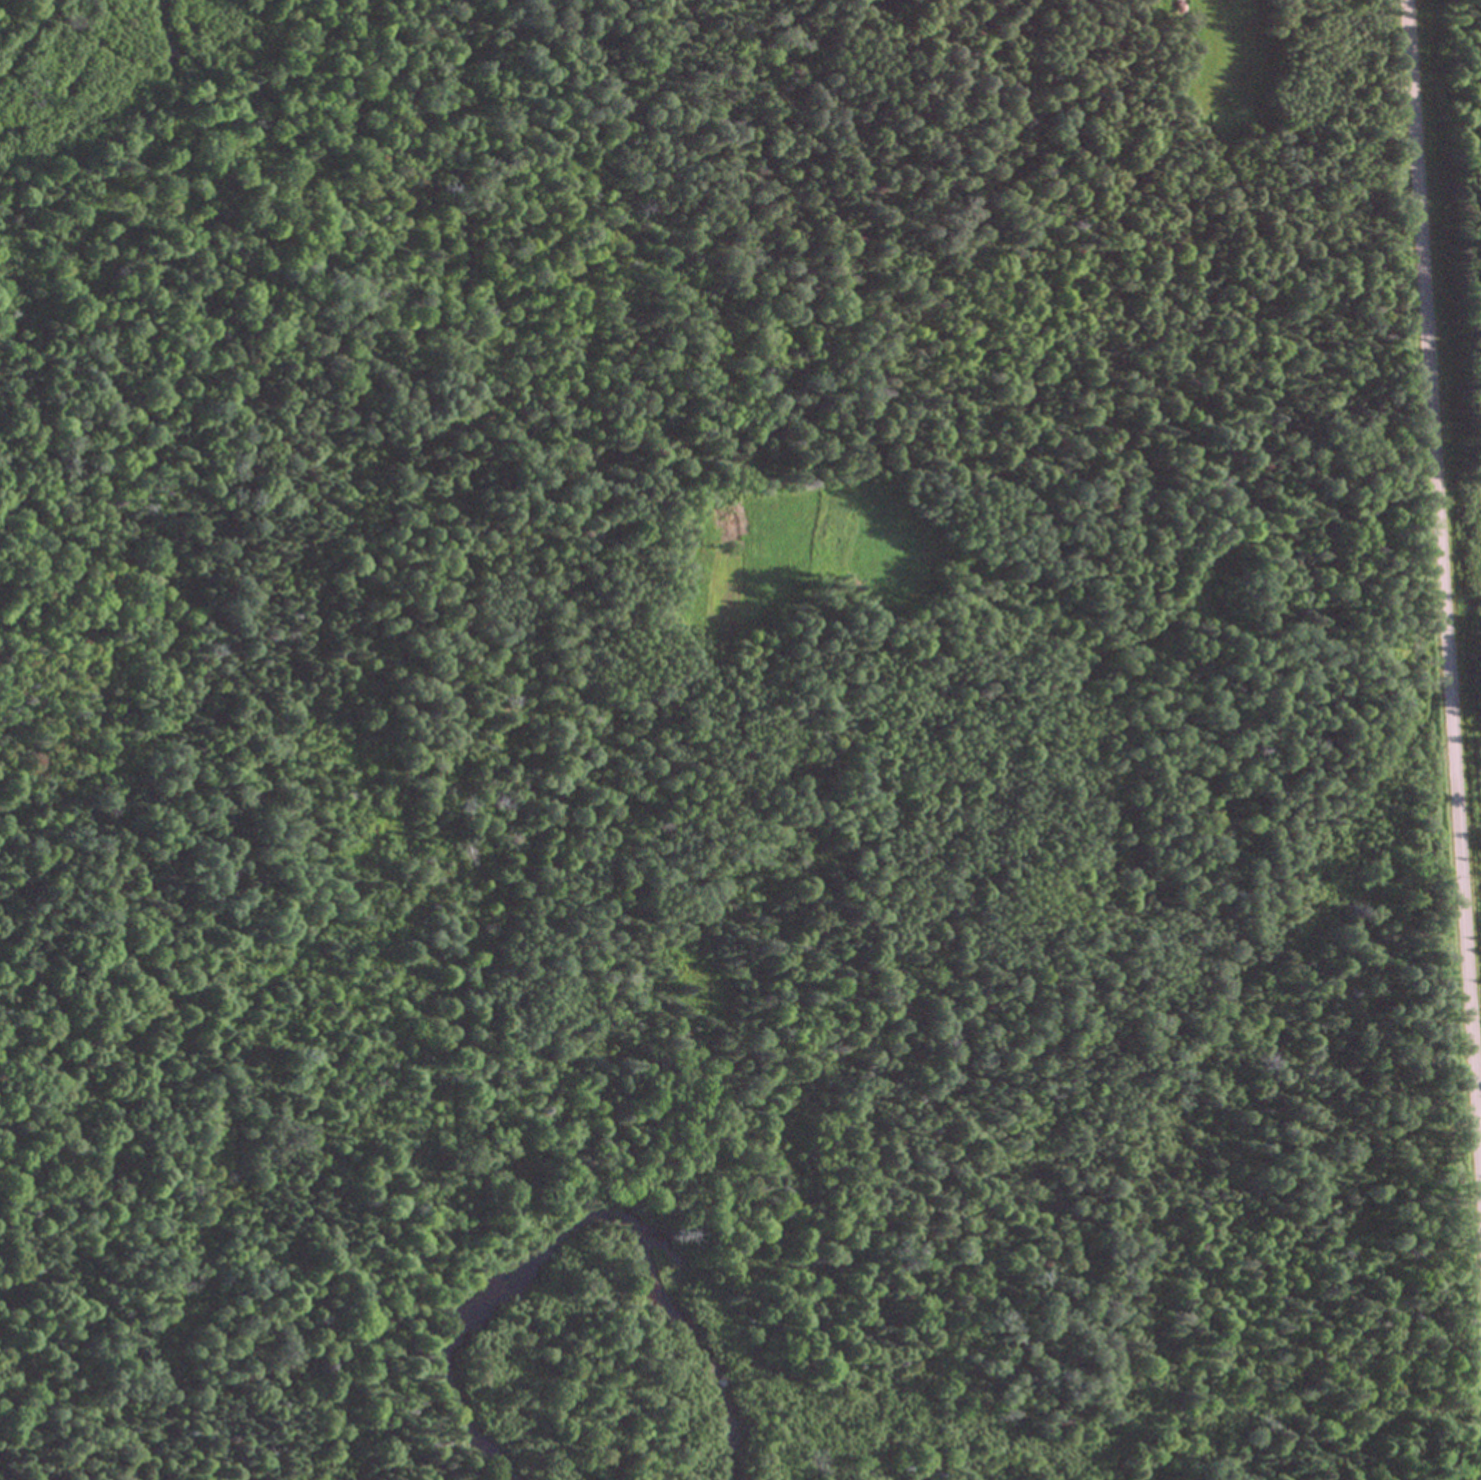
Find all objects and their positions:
road: (1442, 611)
river: (594, 1214)

